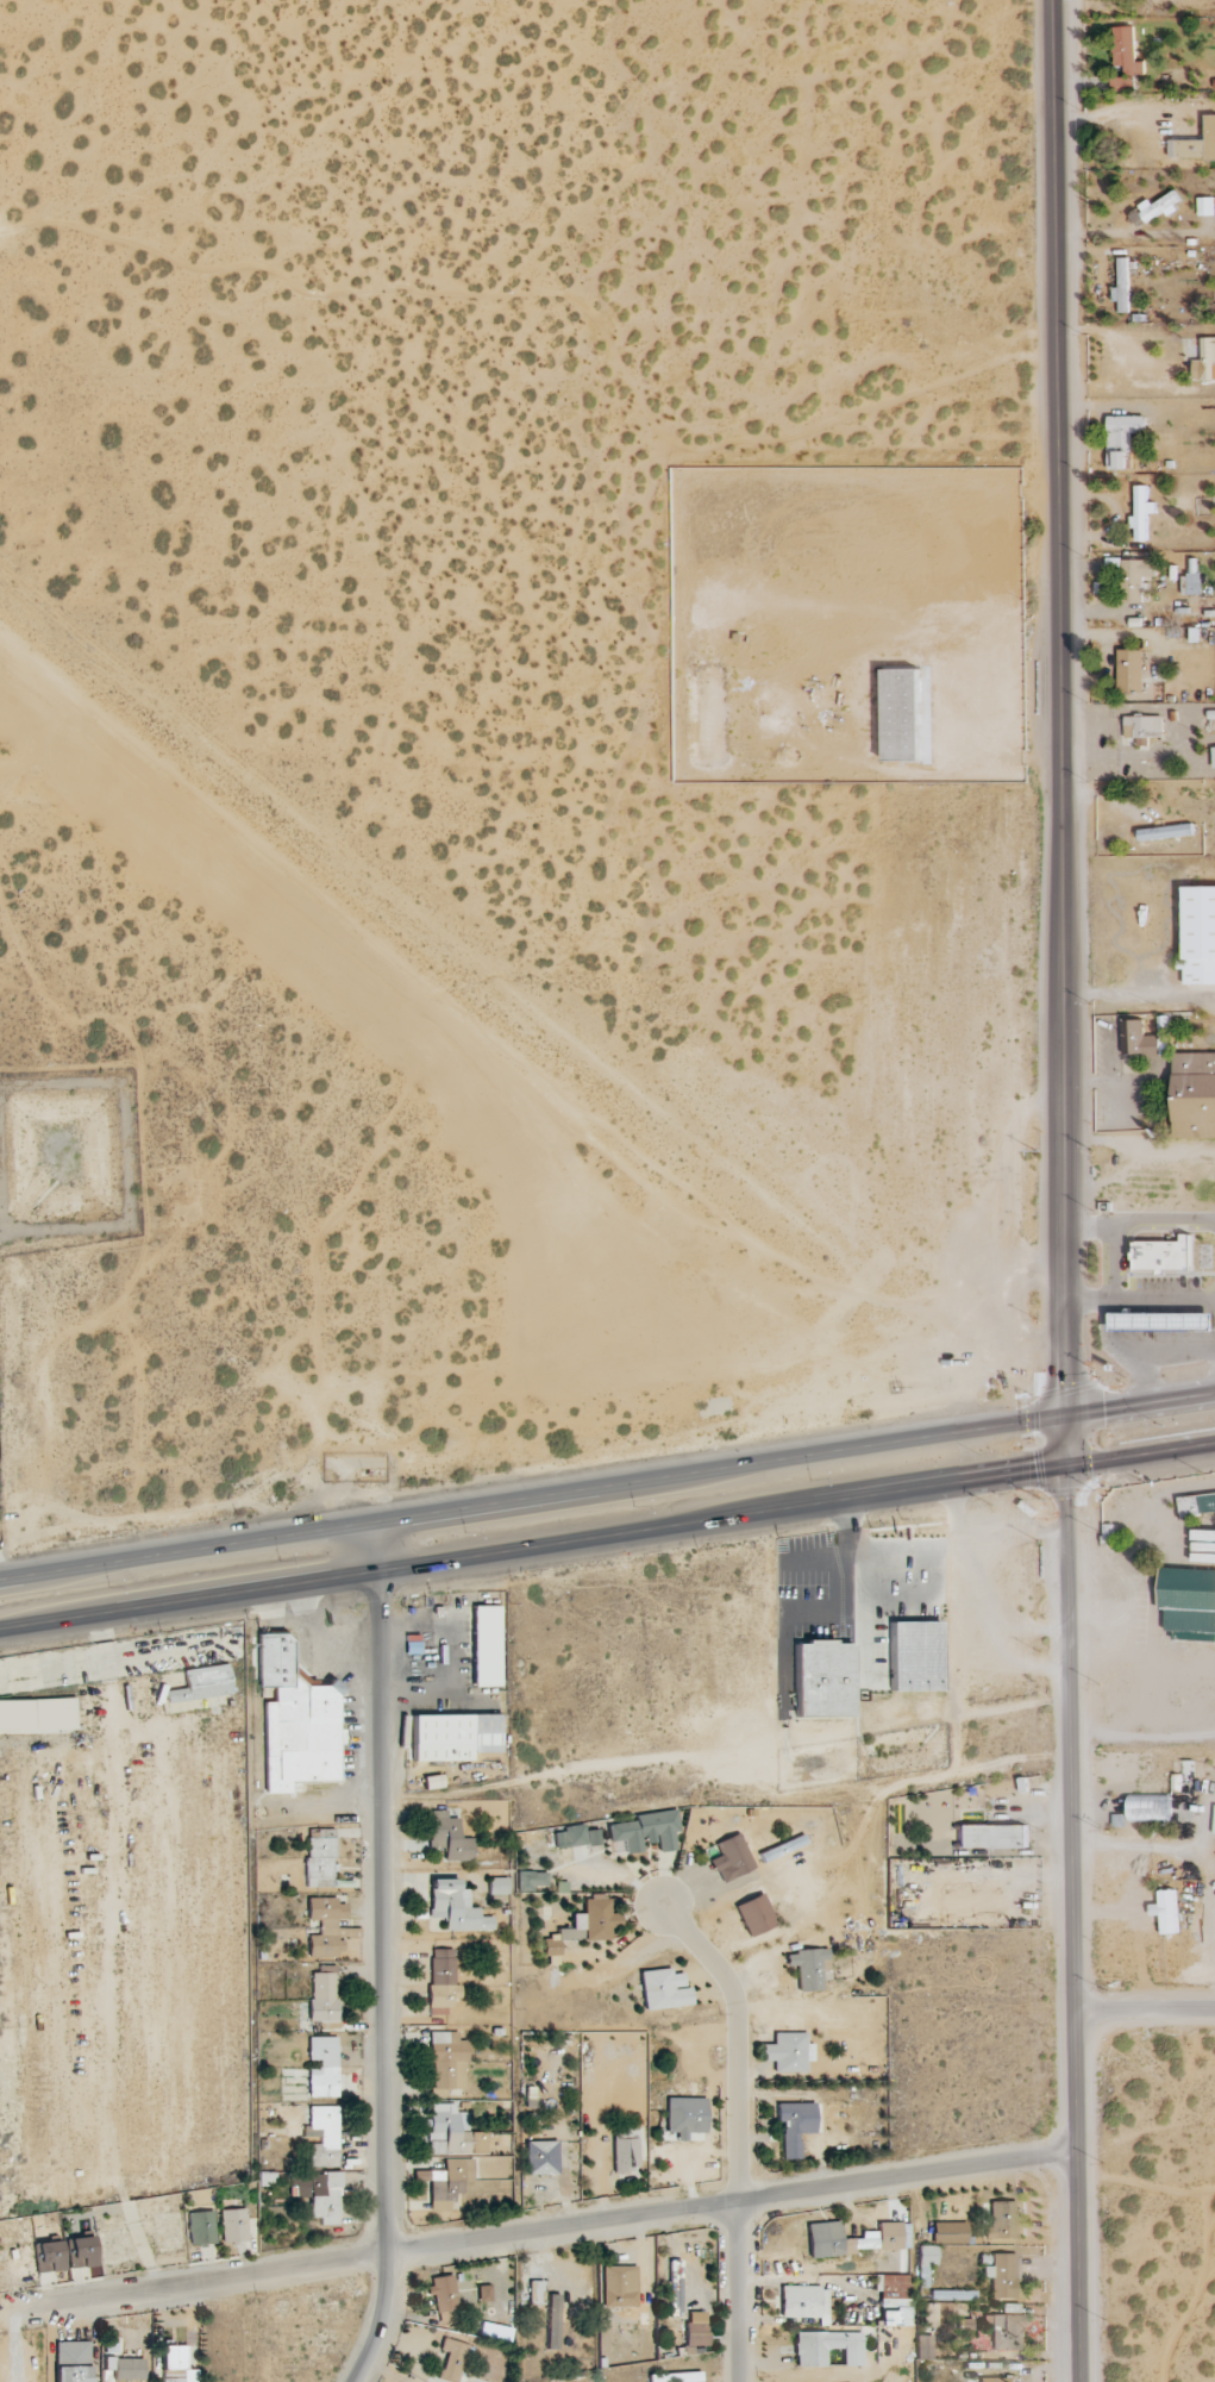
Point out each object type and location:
building: (1126, 50)
building: (1122, 83)
building: (1198, 143)
building: (1204, 206)
building: (1153, 210)
building: (1121, 286)
road: (1115, 345)
building: (1122, 439)
building: (1141, 513)
building: (1135, 577)
building: (1194, 583)
building: (1133, 613)
building: (1131, 671)
building: (902, 714)
building: (1142, 729)
building: (1213, 757)
building: (1165, 832)
building: (1198, 936)
road: (1126, 994)
building: (1140, 1039)
building: (1194, 1095)
road: (1064, 1190)
building: (1164, 1256)
road: (607, 1489)
building: (1197, 1505)
road: (798, 1517)
building: (1203, 1536)
road: (378, 1552)
building: (1189, 1603)
road: (192, 1609)
building: (484, 1646)
building: (913, 1657)
building: (819, 1680)
building: (201, 1684)
building: (36, 1715)
building: (294, 1721)
building: (452, 1737)
building: (1186, 1773)
building: (1150, 1808)
building: (645, 1832)
building: (574, 1837)
building: (990, 1837)
building: (447, 1838)
building: (781, 1849)
building: (318, 1858)
building: (729, 1858)
building: (531, 1882)
building: (496, 1886)
building: (455, 1908)
building: (1166, 1911)
building: (753, 1915)
building: (582, 1926)
building: (808, 1969)
building: (440, 1982)
road: (383, 1984)
building: (662, 1990)
building: (321, 1995)
road: (1144, 2025)
building: (785, 2052)
building: (585, 2057)
building: (445, 2064)
building: (321, 2068)
building: (684, 2119)
road: (740, 2127)
building: (793, 2127)
building: (451, 2134)
building: (322, 2137)
building: (624, 2150)
building: (539, 2158)
building: (446, 2183)
building: (319, 2196)
building: (1001, 2221)
building: (232, 2226)
building: (200, 2228)
road: (539, 2231)
building: (853, 2239)
building: (80, 2252)
building: (46, 2257)
building: (923, 2264)
building: (1000, 2276)
building: (618, 2287)
building: (672, 2288)
building: (533, 2293)
building: (483, 2294)
building: (952, 2296)
building: (893, 2299)
building: (443, 2300)
building: (803, 2303)
building: (1003, 2332)
building: (694, 2338)
building: (922, 2347)
building: (825, 2349)
building: (451, 2359)
building: (70, 2362)
building: (120, 2363)
building: (175, 2365)
building: (674, 2377)
building: (996, 2380)

